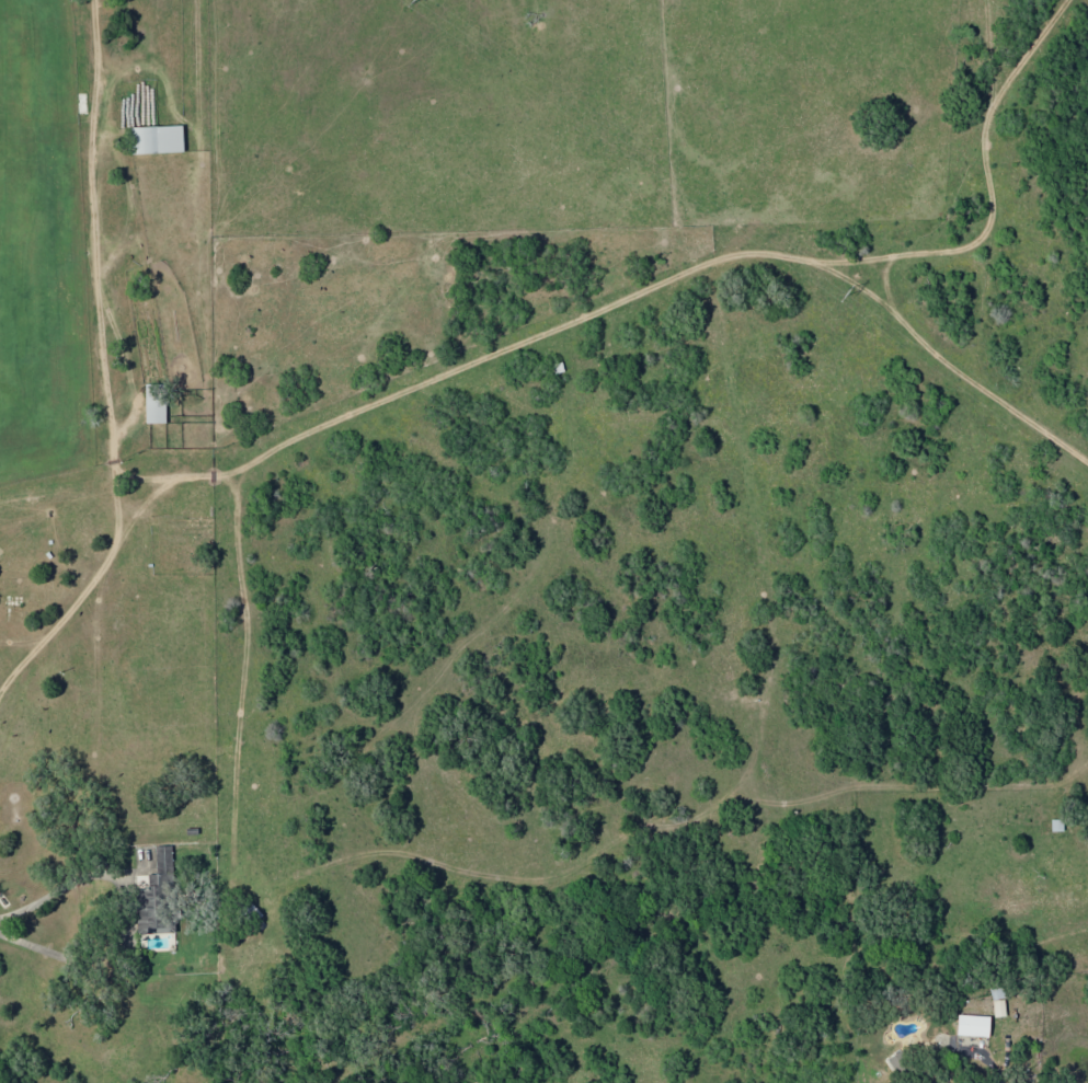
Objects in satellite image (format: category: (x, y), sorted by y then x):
power tower: (432, 0)
building: (157, 139)
power tower: (829, 296)
building: (154, 404)
road: (2, 678)
building: (163, 859)
building: (151, 912)
building: (973, 1026)
building: (900, 1063)

